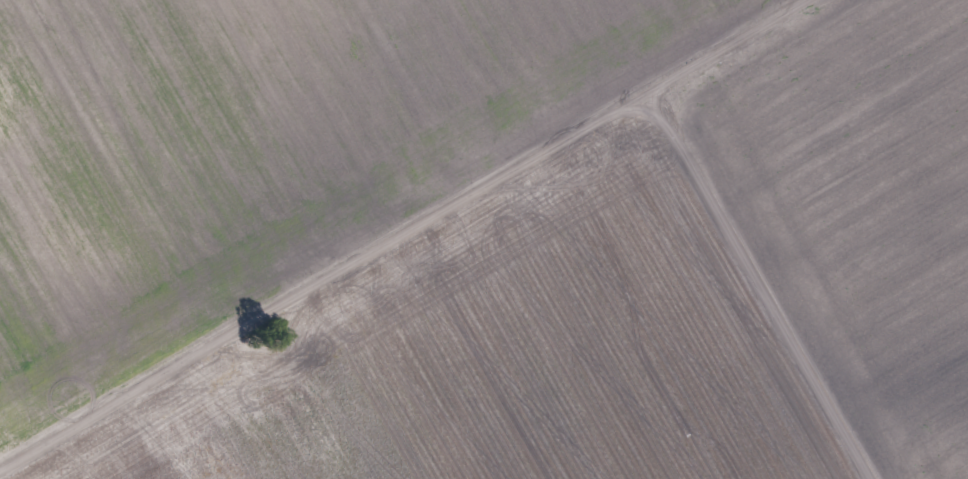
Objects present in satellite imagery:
road: (779, 3)
road: (395, 231)
road: (757, 282)

